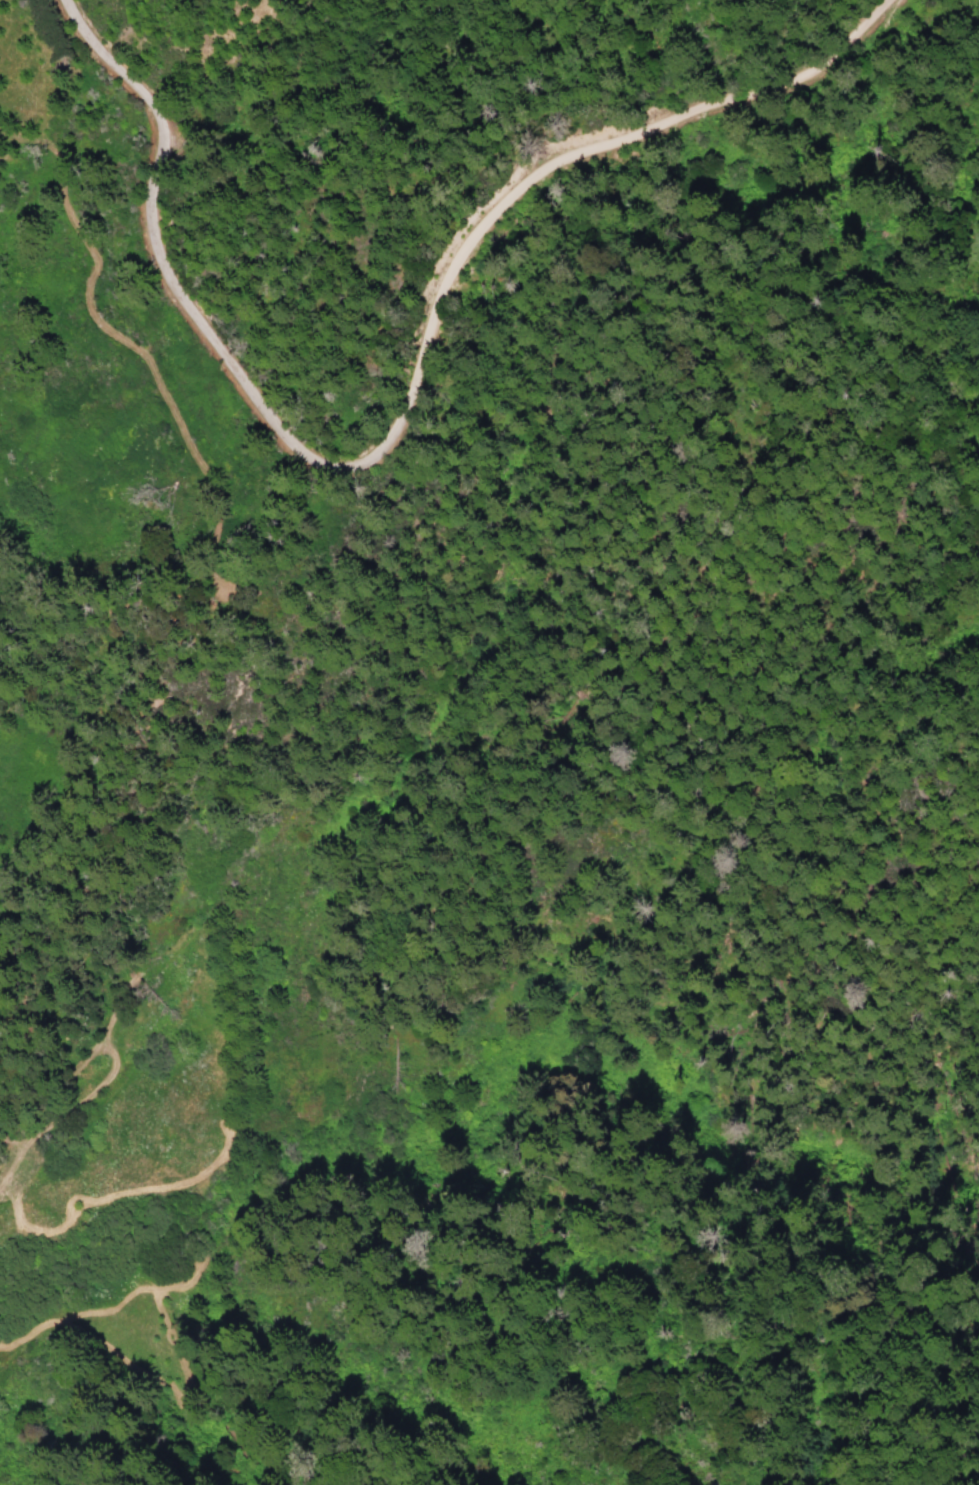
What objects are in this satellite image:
road: (400, 403)

